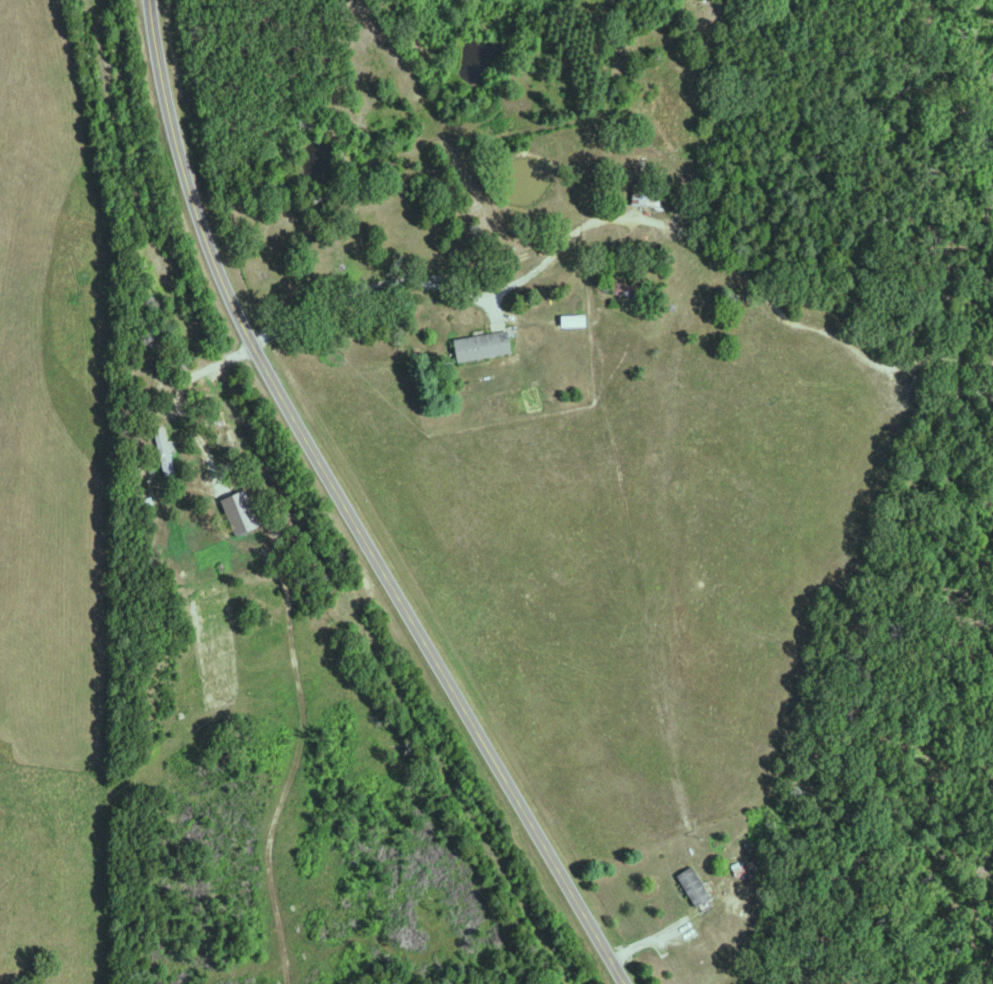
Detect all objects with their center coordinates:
road: (474, 299)
building: (487, 344)
road: (201, 371)
road: (345, 510)
building: (244, 511)
building: (699, 885)
road: (676, 920)

